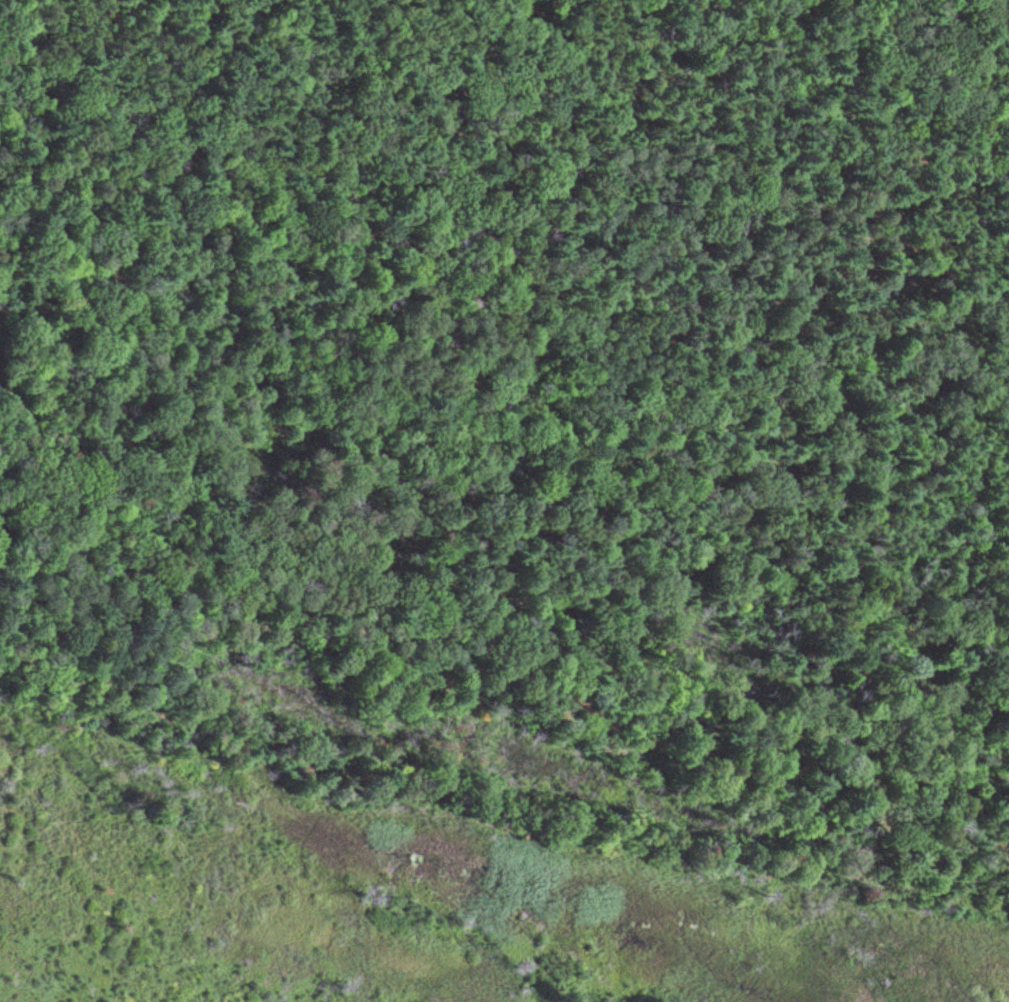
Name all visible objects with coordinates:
road: (857, 102)

